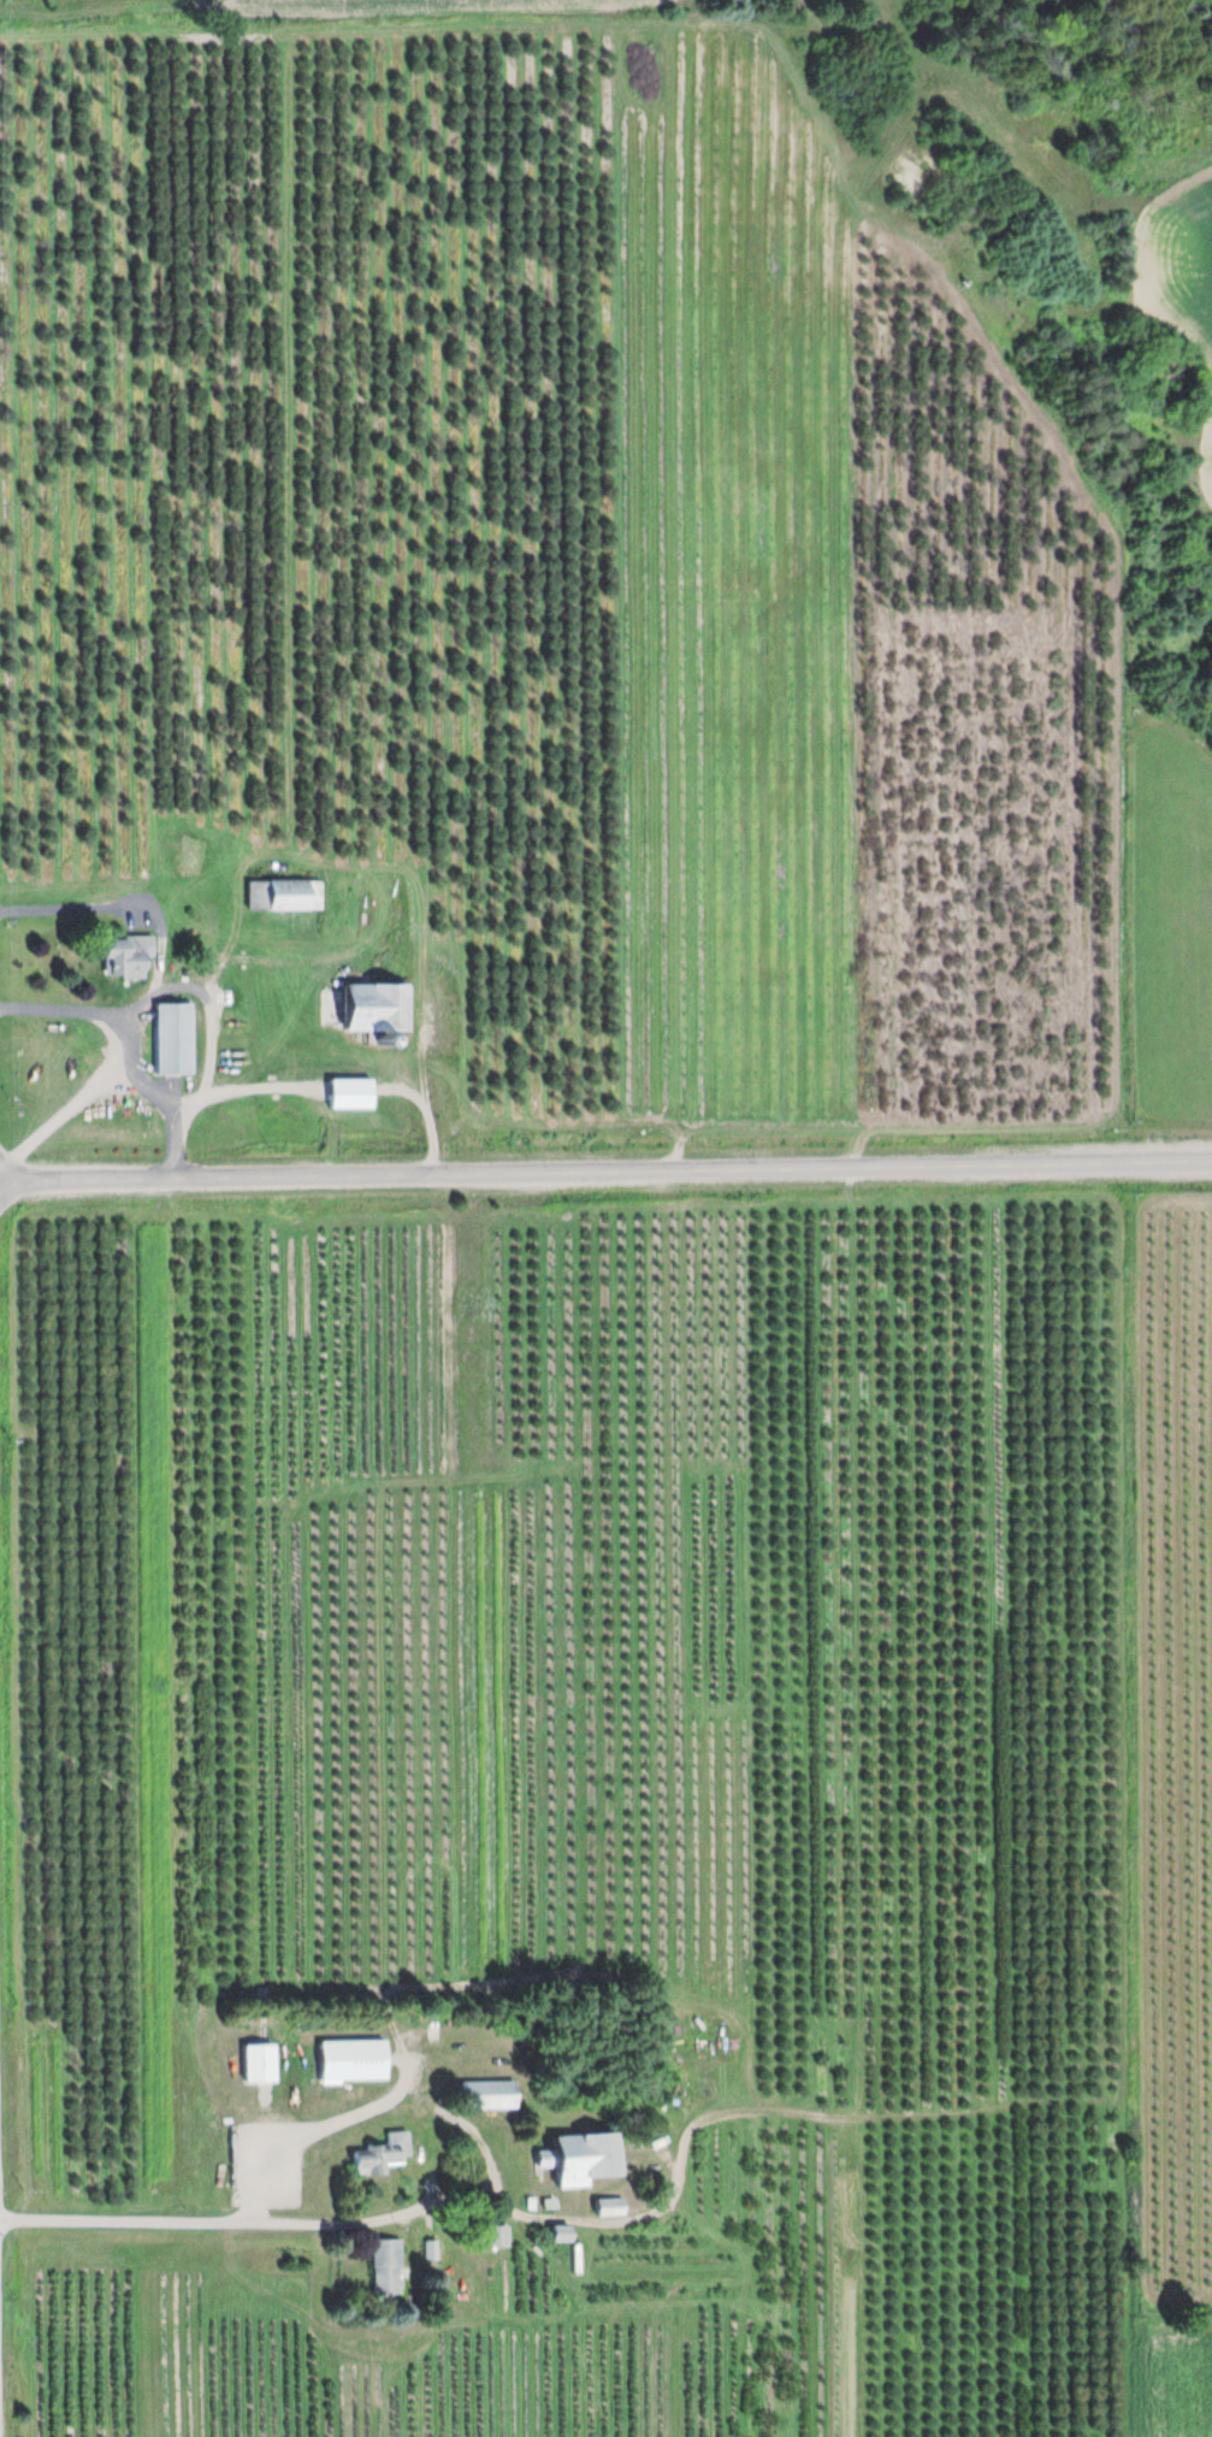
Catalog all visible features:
building: (185, 858)
building: (280, 896)
building: (119, 957)
building: (368, 1009)
building: (169, 1039)
building: (345, 1094)
road: (605, 1169)
building: (350, 2060)
building: (254, 2064)
building: (486, 2095)
building: (378, 2154)
building: (579, 2158)
building: (605, 2207)
road: (230, 2223)
building: (556, 2234)
building: (493, 2236)
building: (382, 2267)

